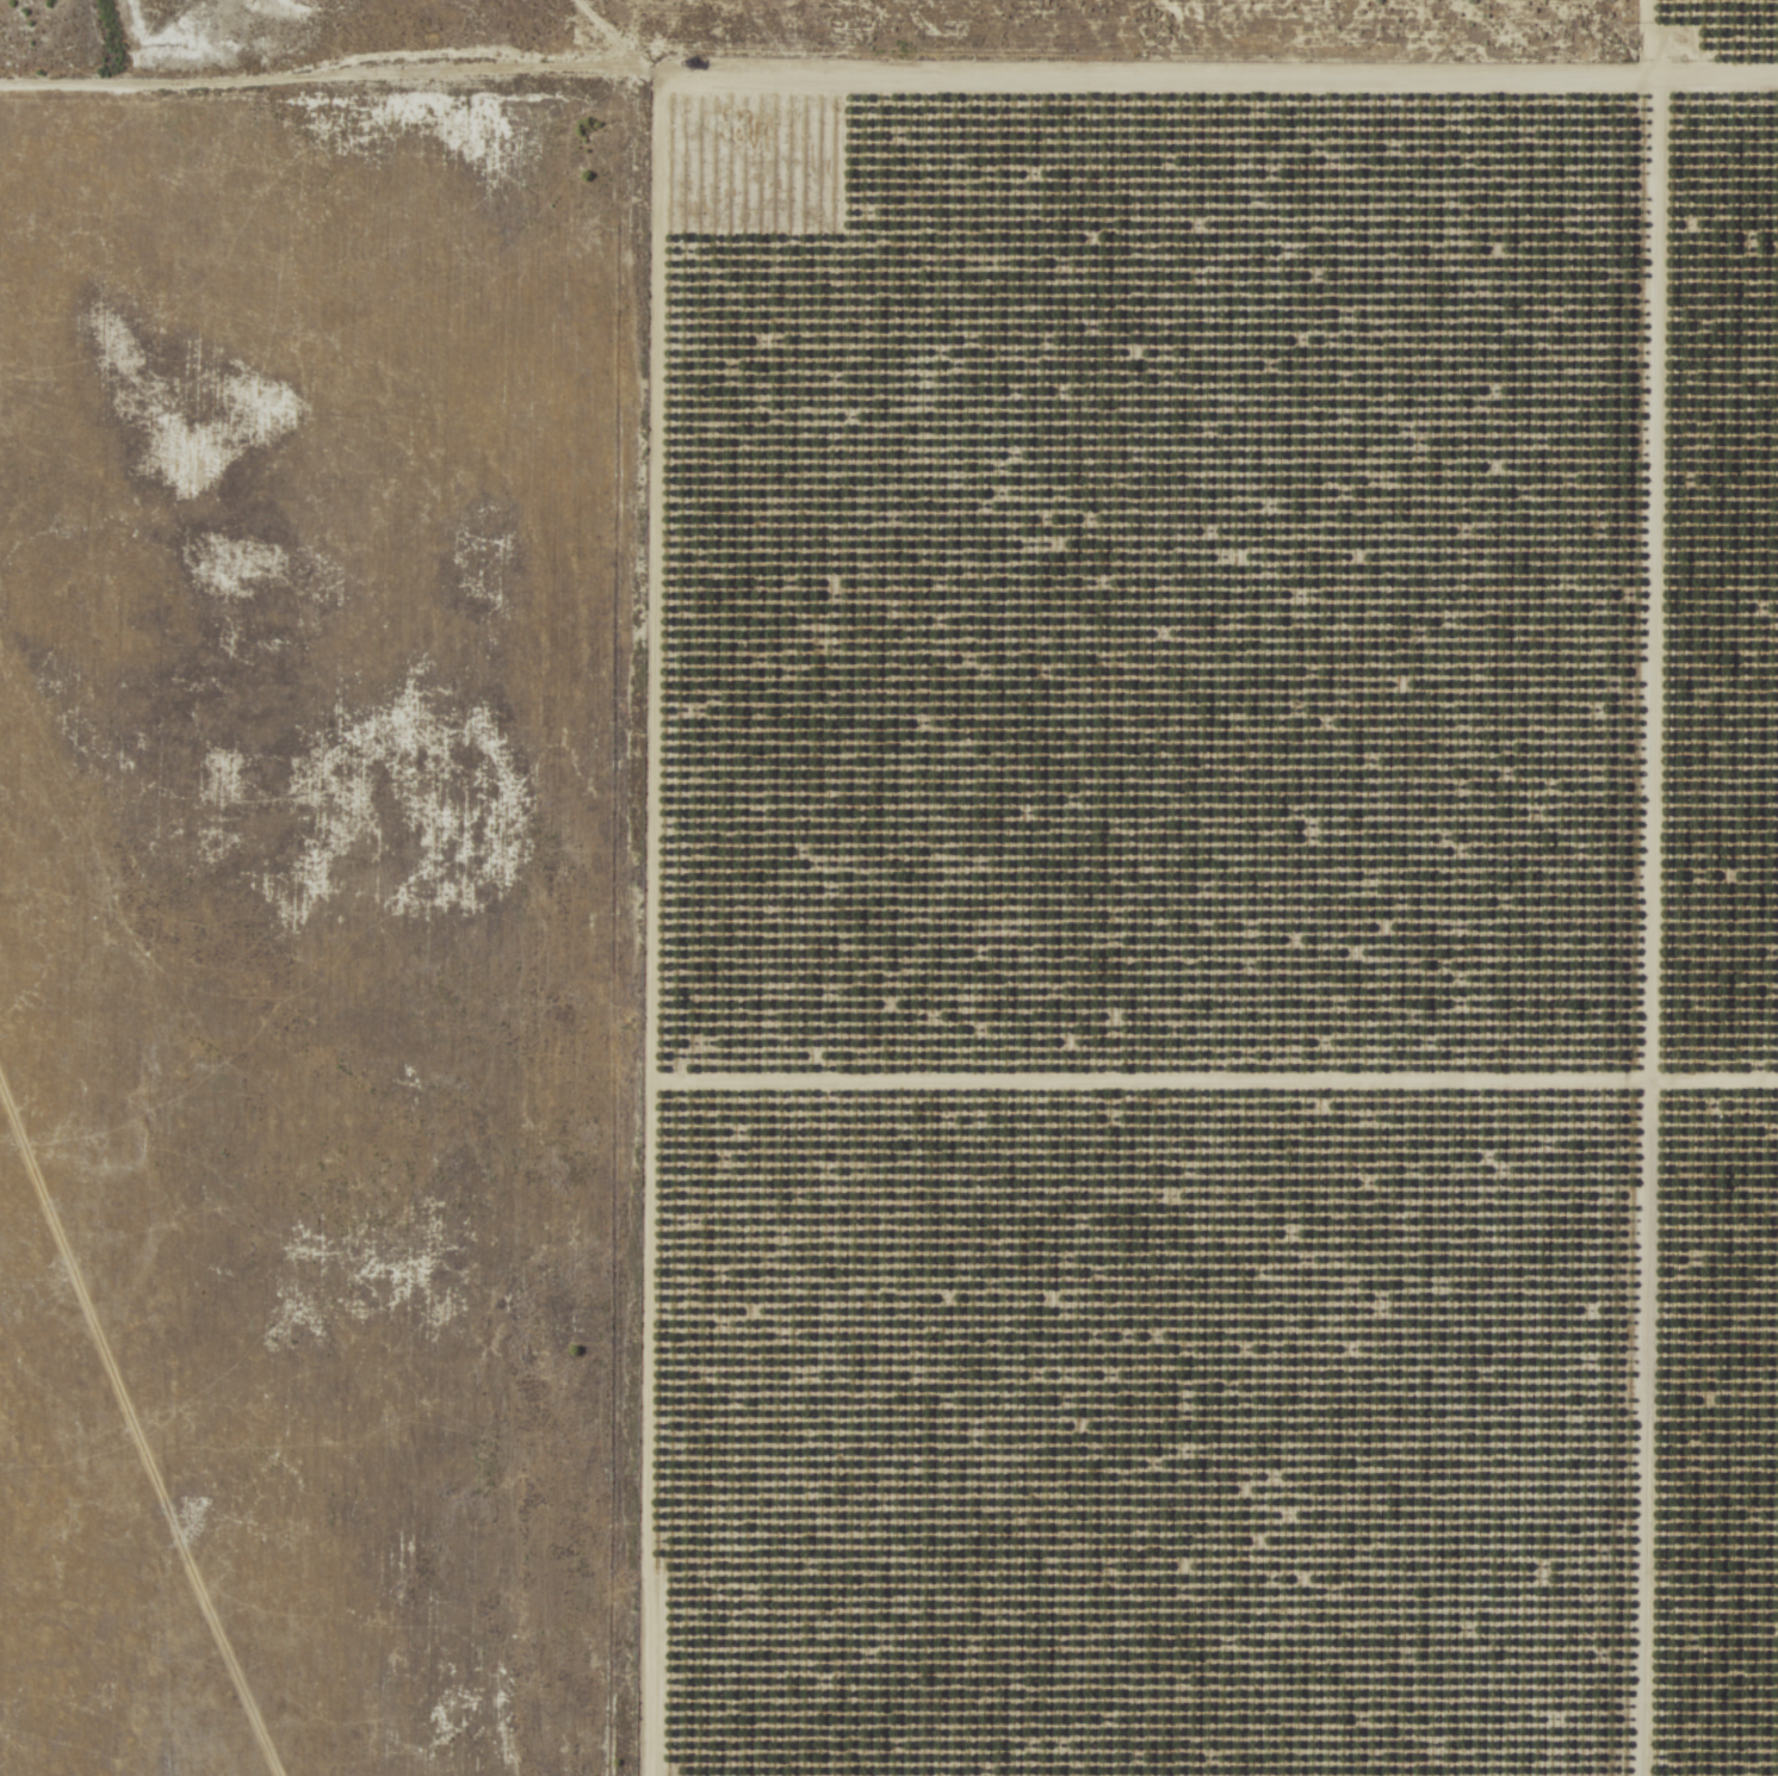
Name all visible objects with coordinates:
road: (1705, 57)
road: (1631, 887)

